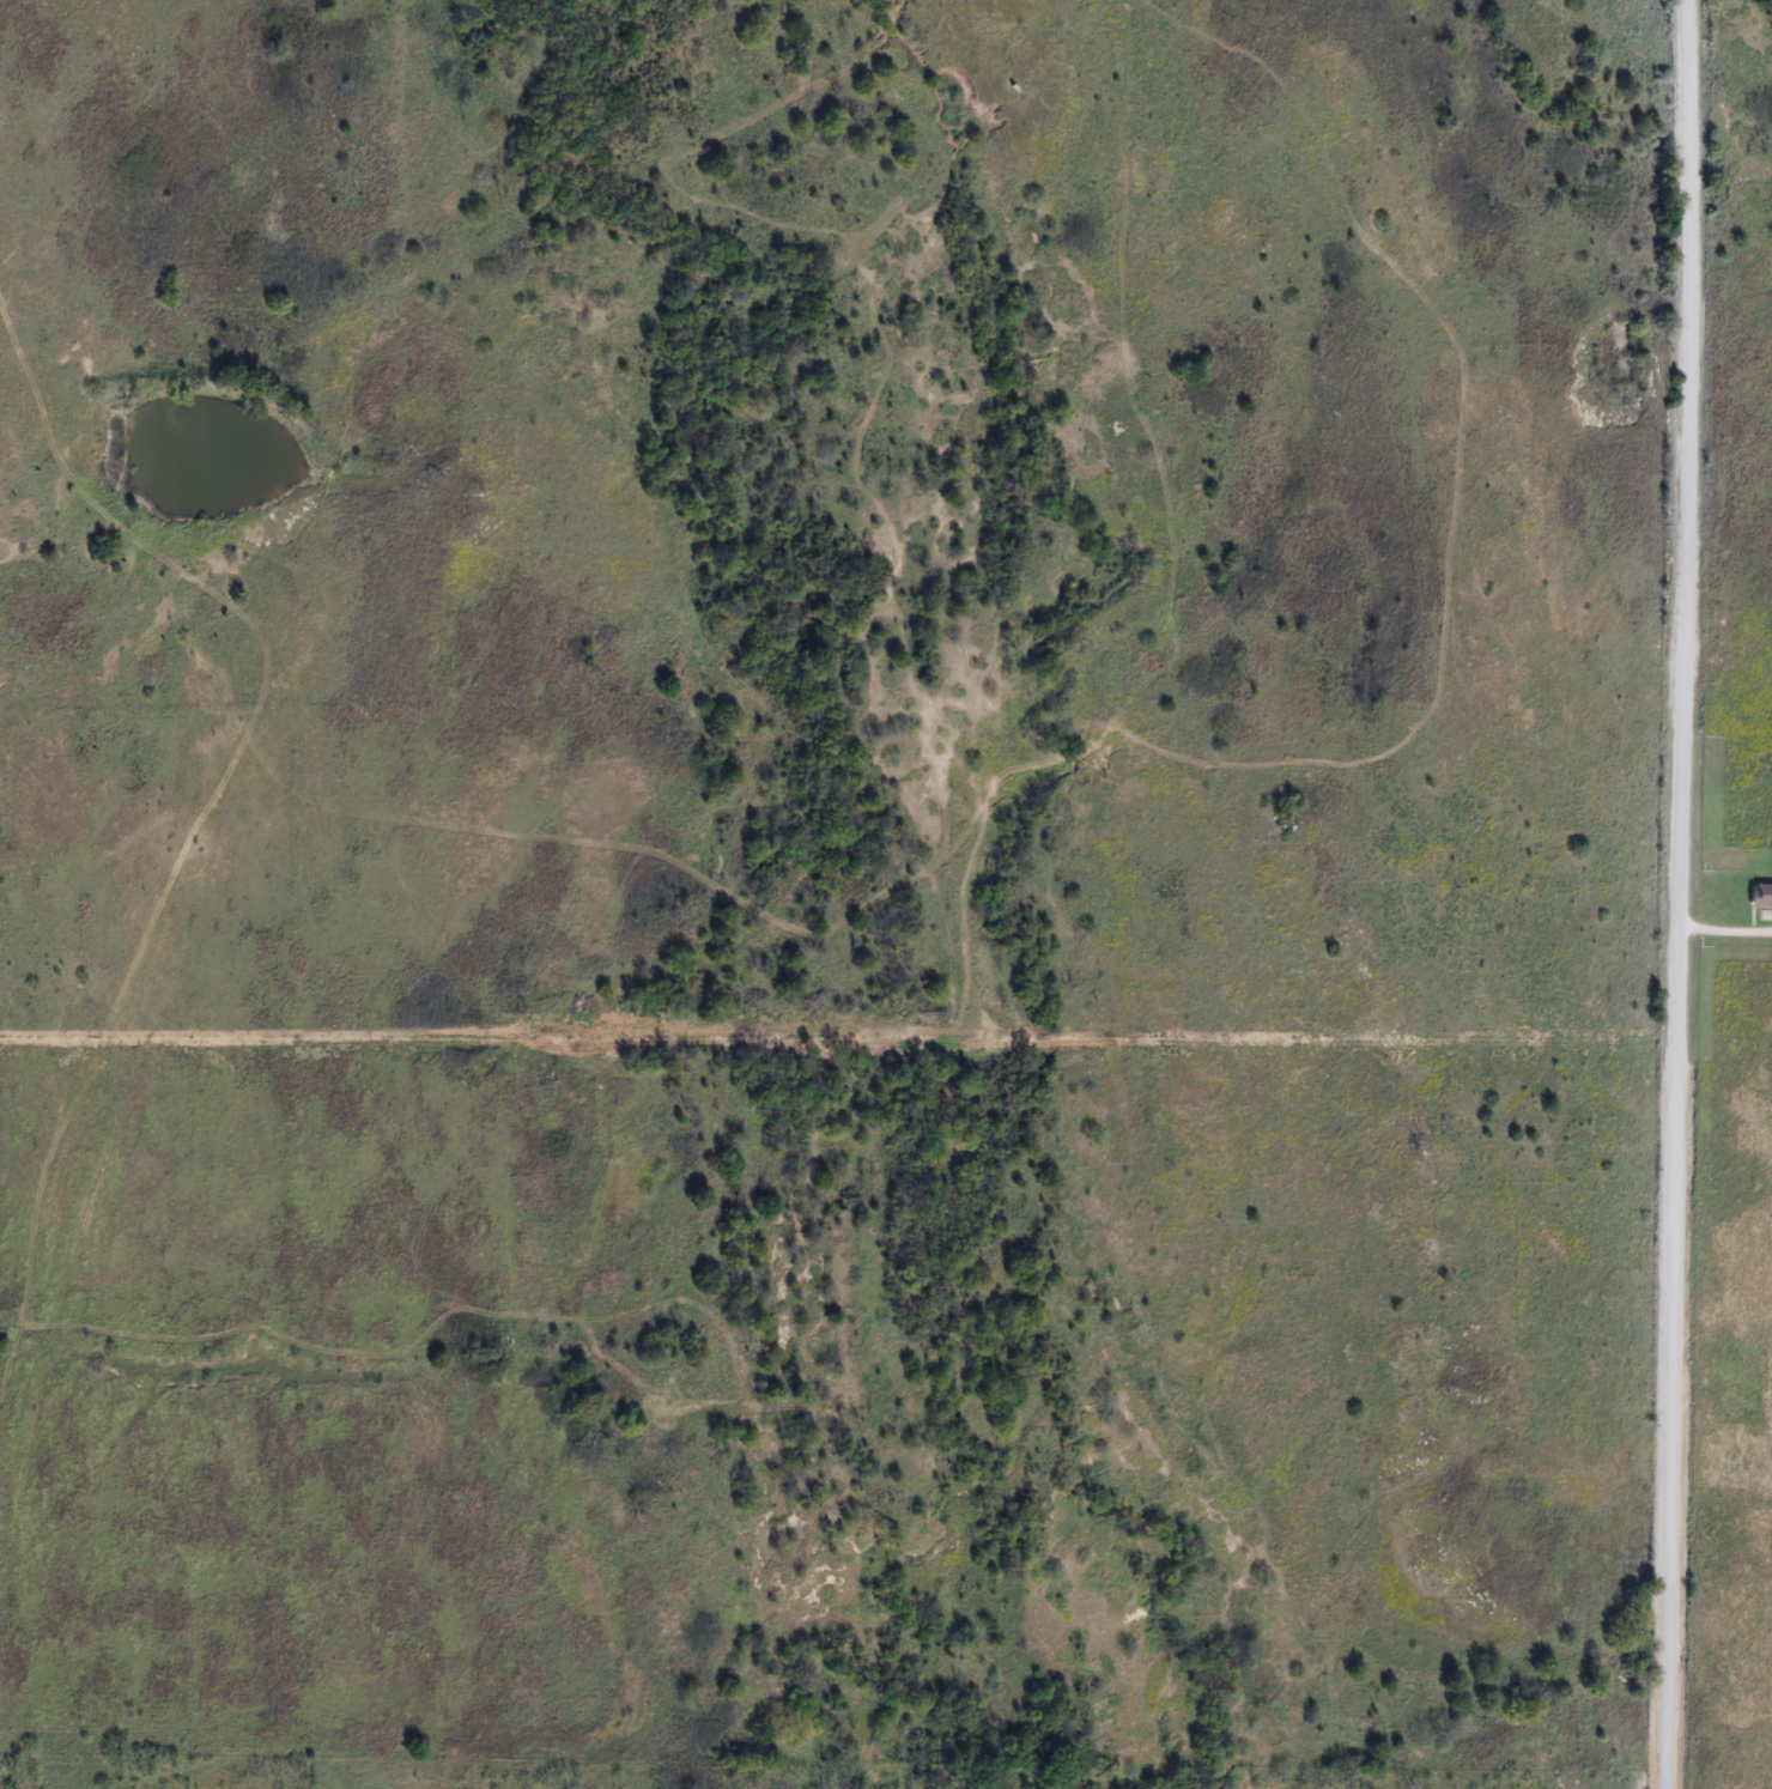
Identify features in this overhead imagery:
road: (1683, 893)
building: (1758, 896)

